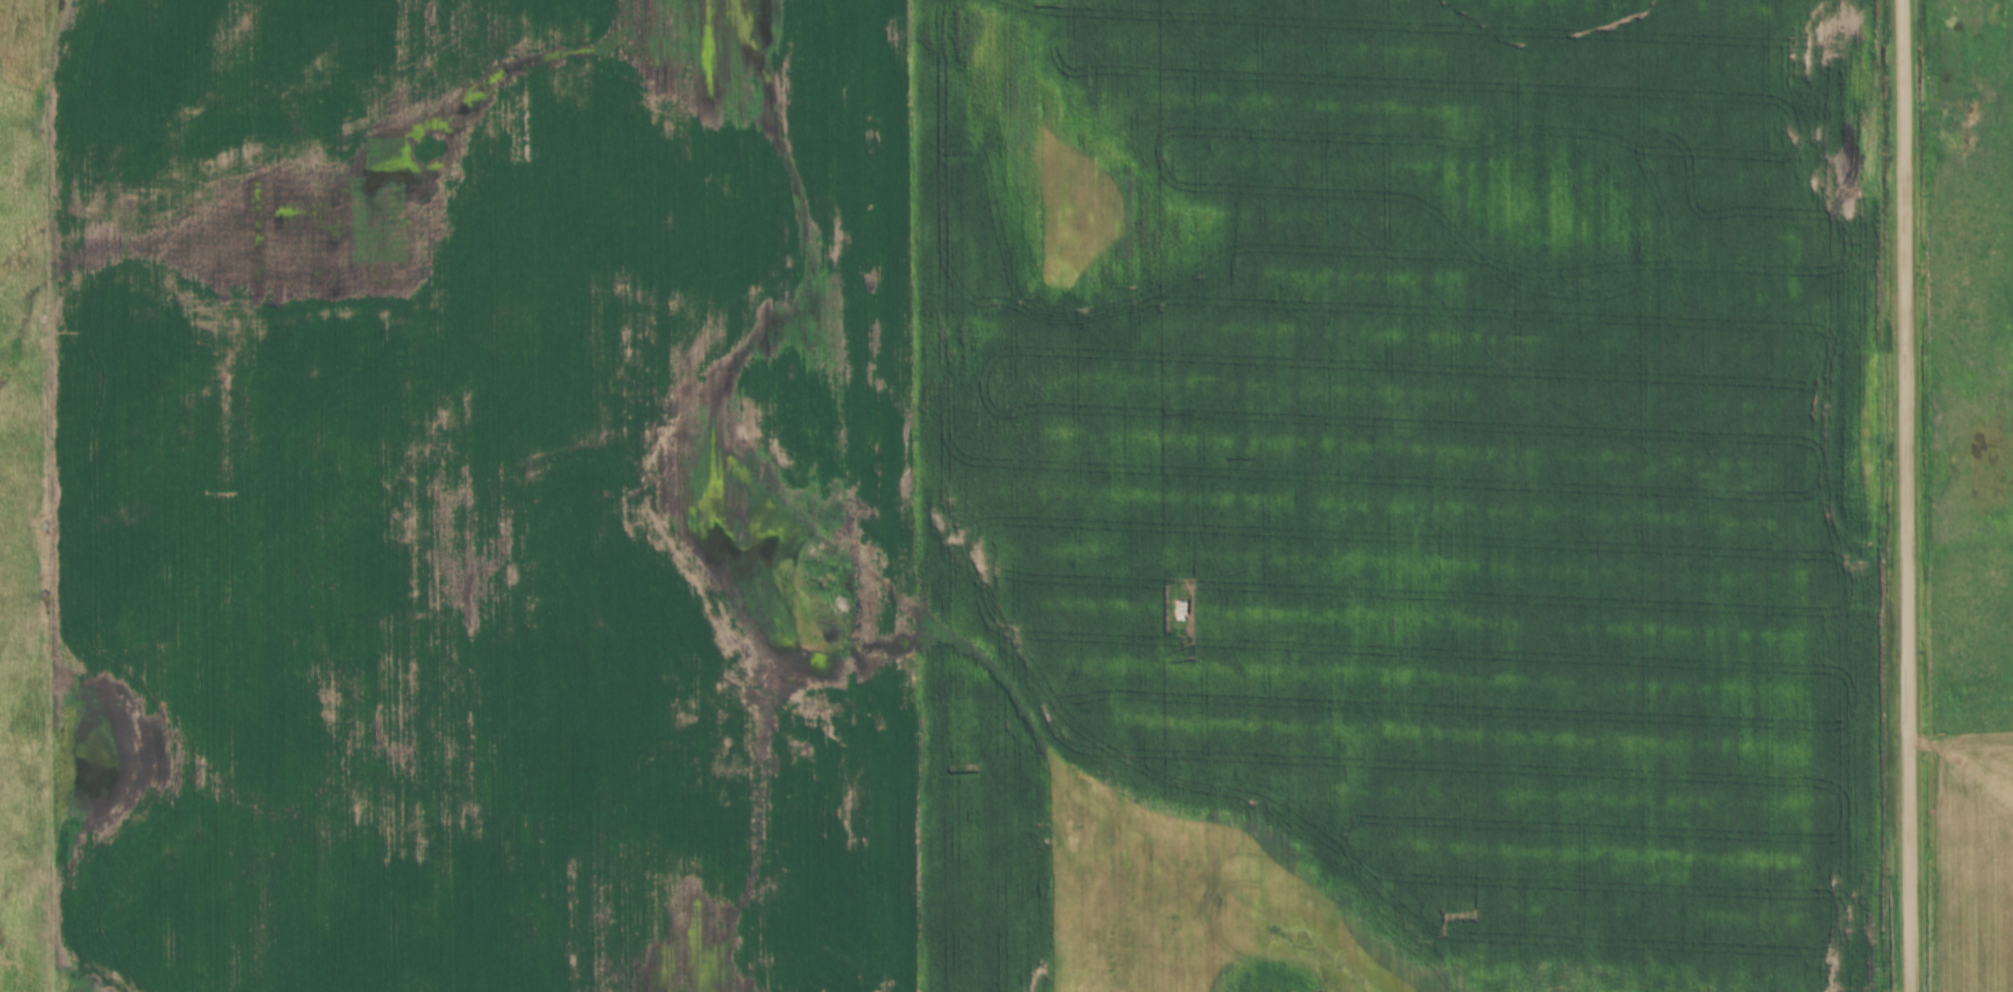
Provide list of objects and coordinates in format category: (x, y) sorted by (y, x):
road: (1909, 496)

